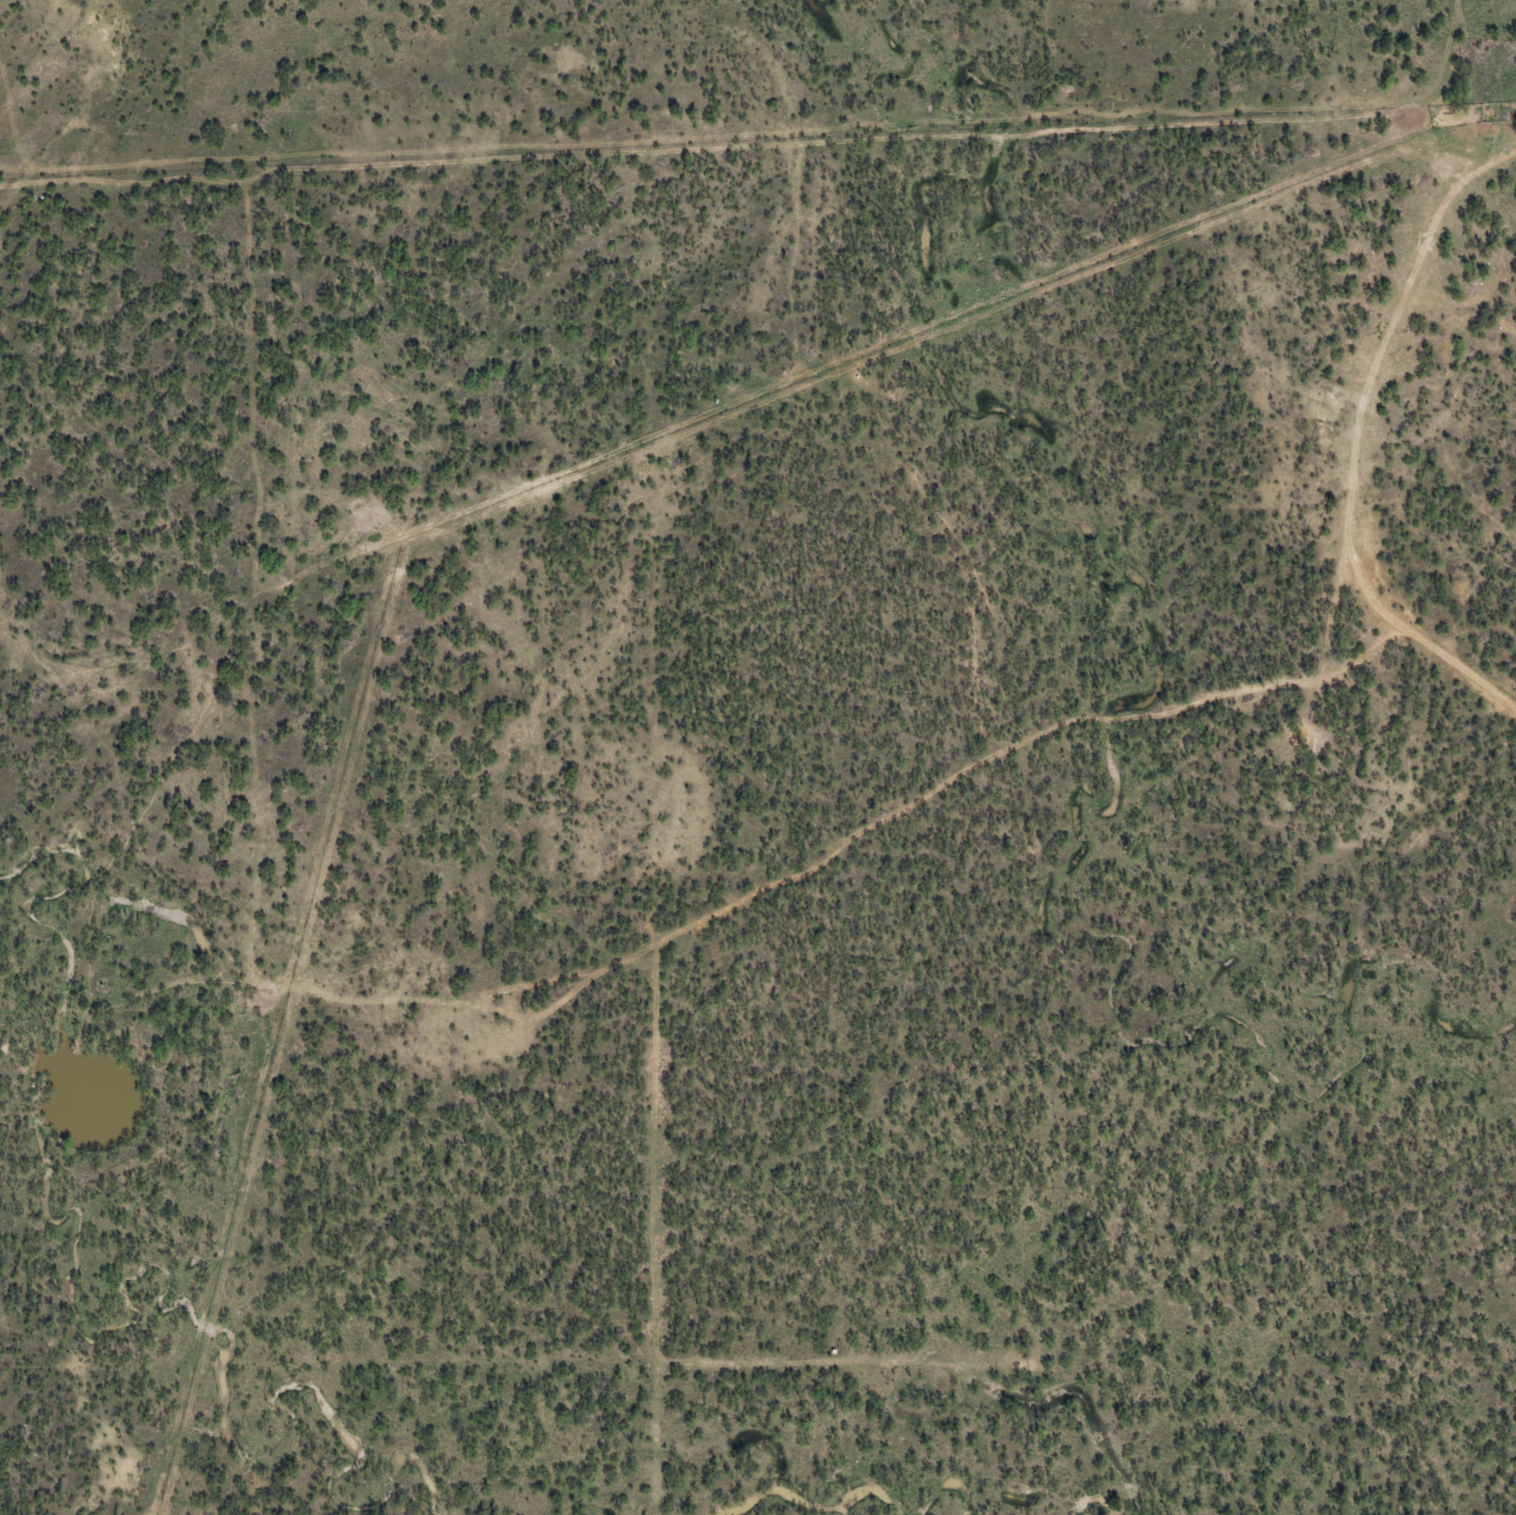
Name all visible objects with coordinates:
road: (1382, 371)

